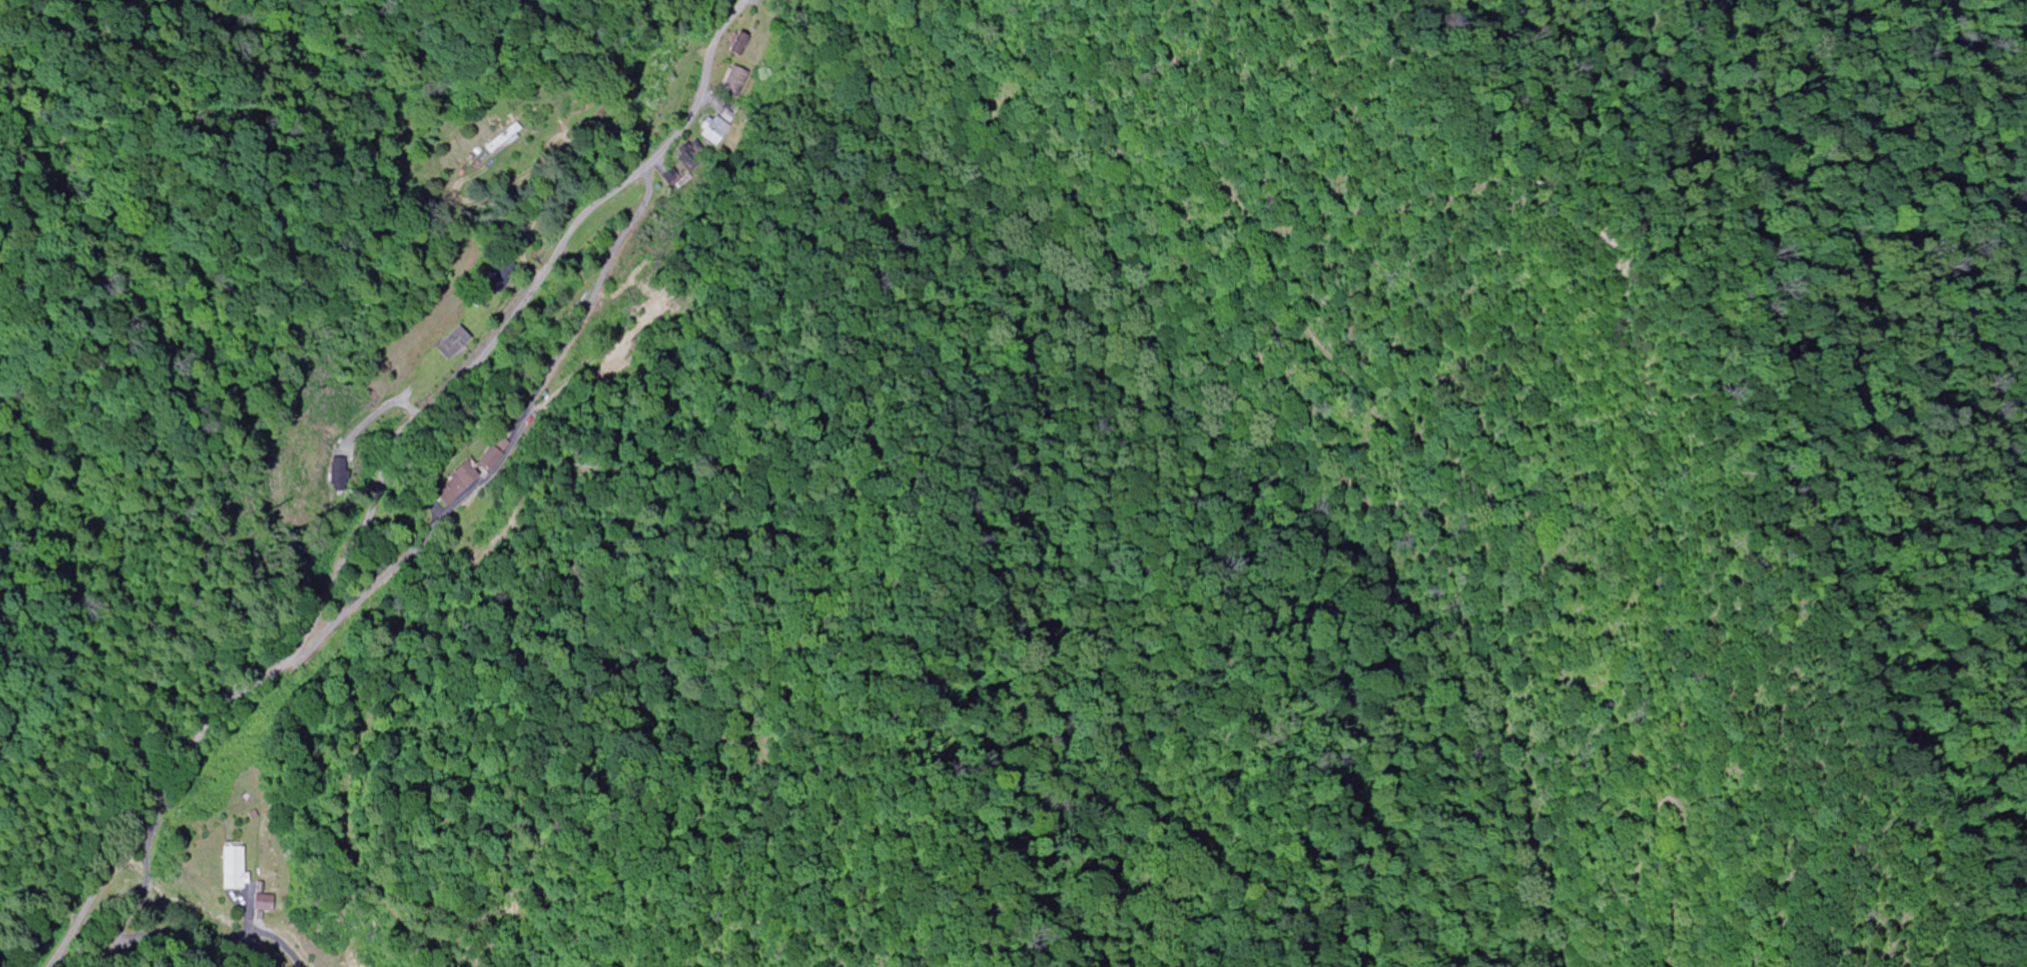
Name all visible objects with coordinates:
building: (736, 43)
building: (732, 81)
building: (710, 131)
building: (690, 156)
building: (671, 178)
building: (455, 344)
road: (345, 447)
building: (233, 869)

